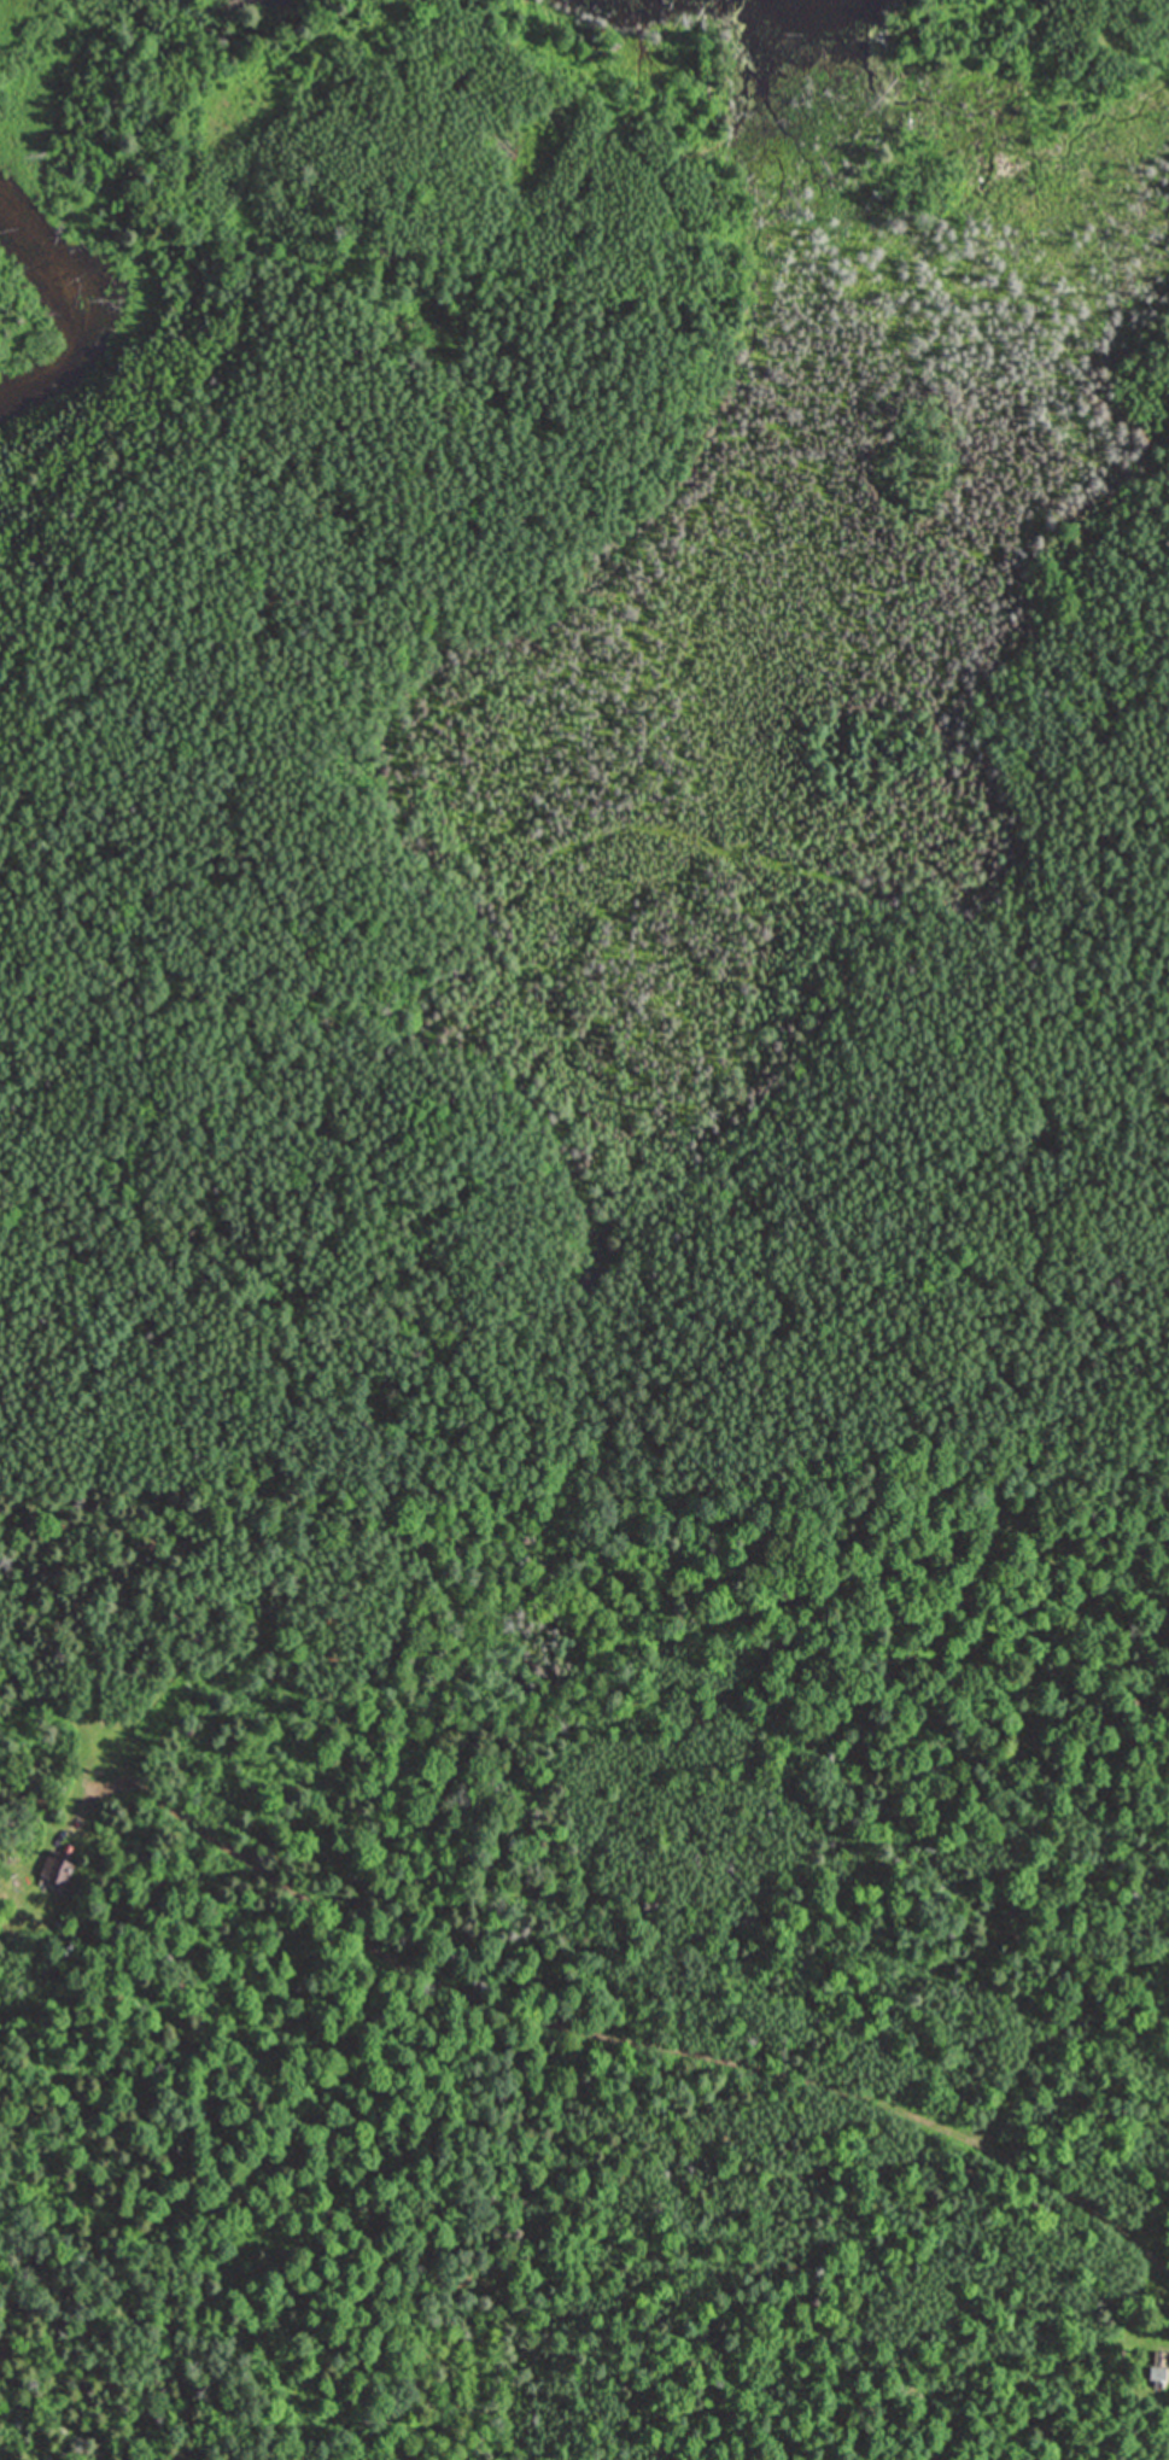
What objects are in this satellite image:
river: (805, 8)
river: (76, 304)
road: (904, 873)
road: (438, 1979)
road: (992, 2148)

